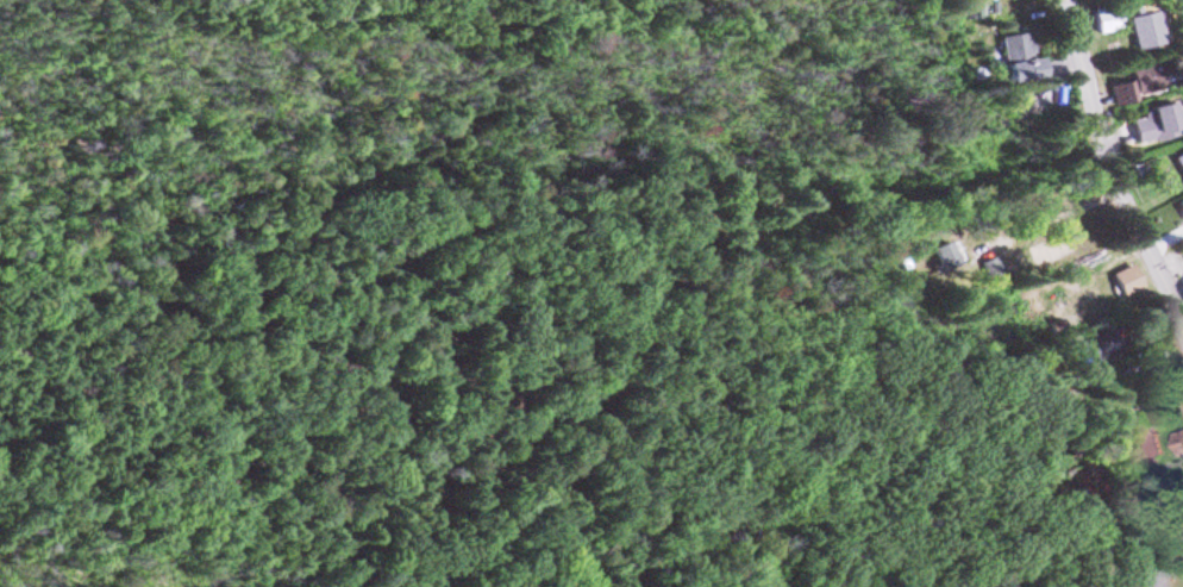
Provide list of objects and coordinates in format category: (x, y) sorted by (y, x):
building: (1140, 33)
building: (1121, 92)
building: (1148, 131)
building: (1176, 164)
road: (1109, 170)

